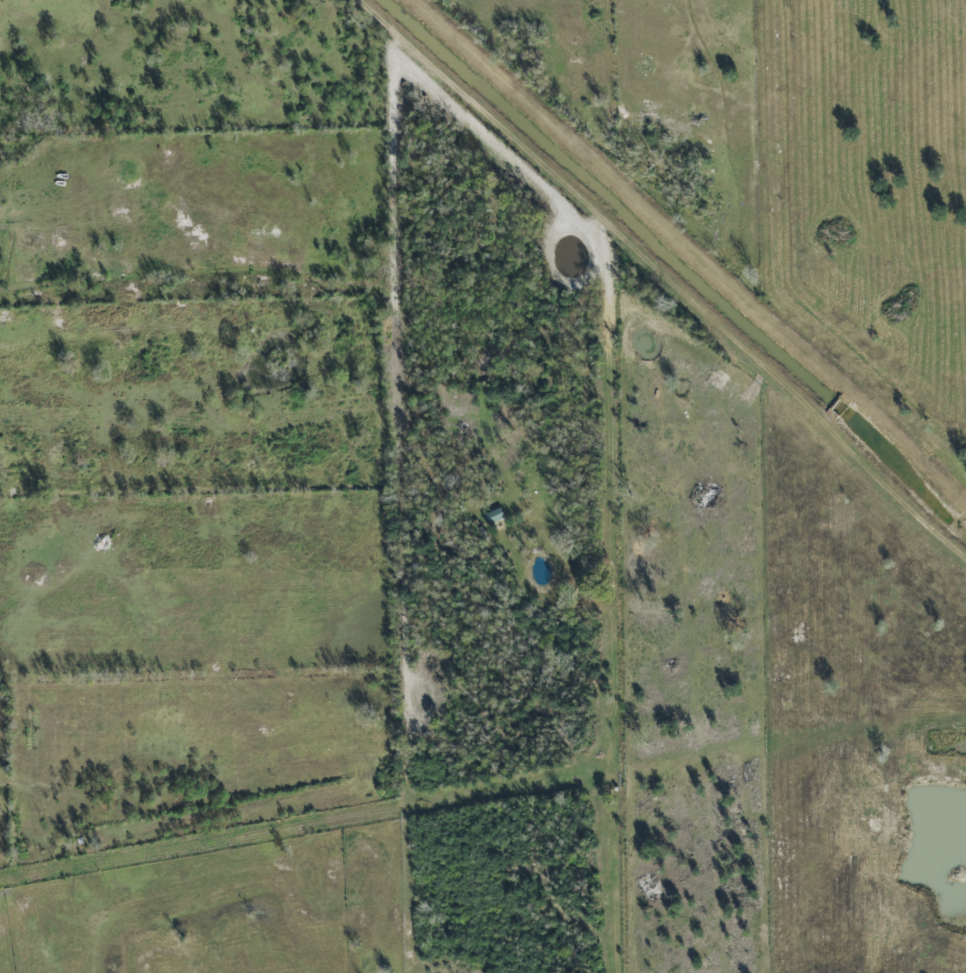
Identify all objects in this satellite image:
road: (692, 247)
road: (666, 275)

